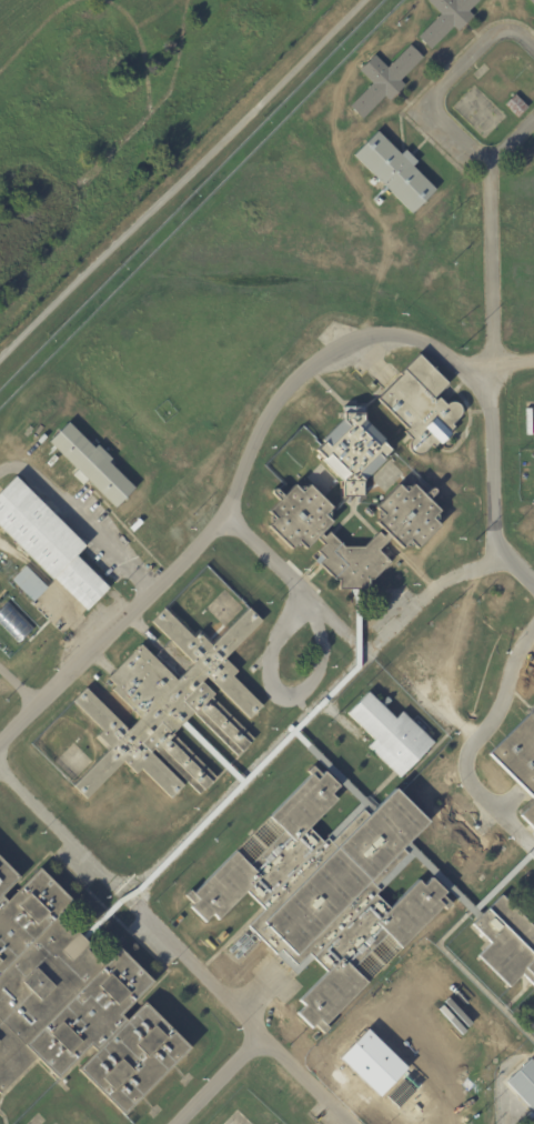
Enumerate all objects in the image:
building: (532, 1)
building: (533, 13)
building: (445, 19)
building: (383, 79)
building: (515, 104)
road: (423, 108)
airport: (113, 114)
building: (394, 170)
road: (182, 179)
road: (490, 273)
road: (282, 390)
building: (421, 404)
building: (352, 450)
building: (91, 464)
road: (80, 520)
building: (48, 542)
road: (263, 559)
building: (29, 584)
road: (425, 593)
road: (332, 619)
building: (12, 622)
road: (359, 643)
road: (18, 686)
road: (284, 701)
building: (390, 734)
road: (474, 736)
building: (518, 753)
building: (128, 757)
road: (532, 840)
building: (506, 942)
road: (175, 946)
building: (74, 1000)
road: (216, 1078)
building: (524, 1085)

